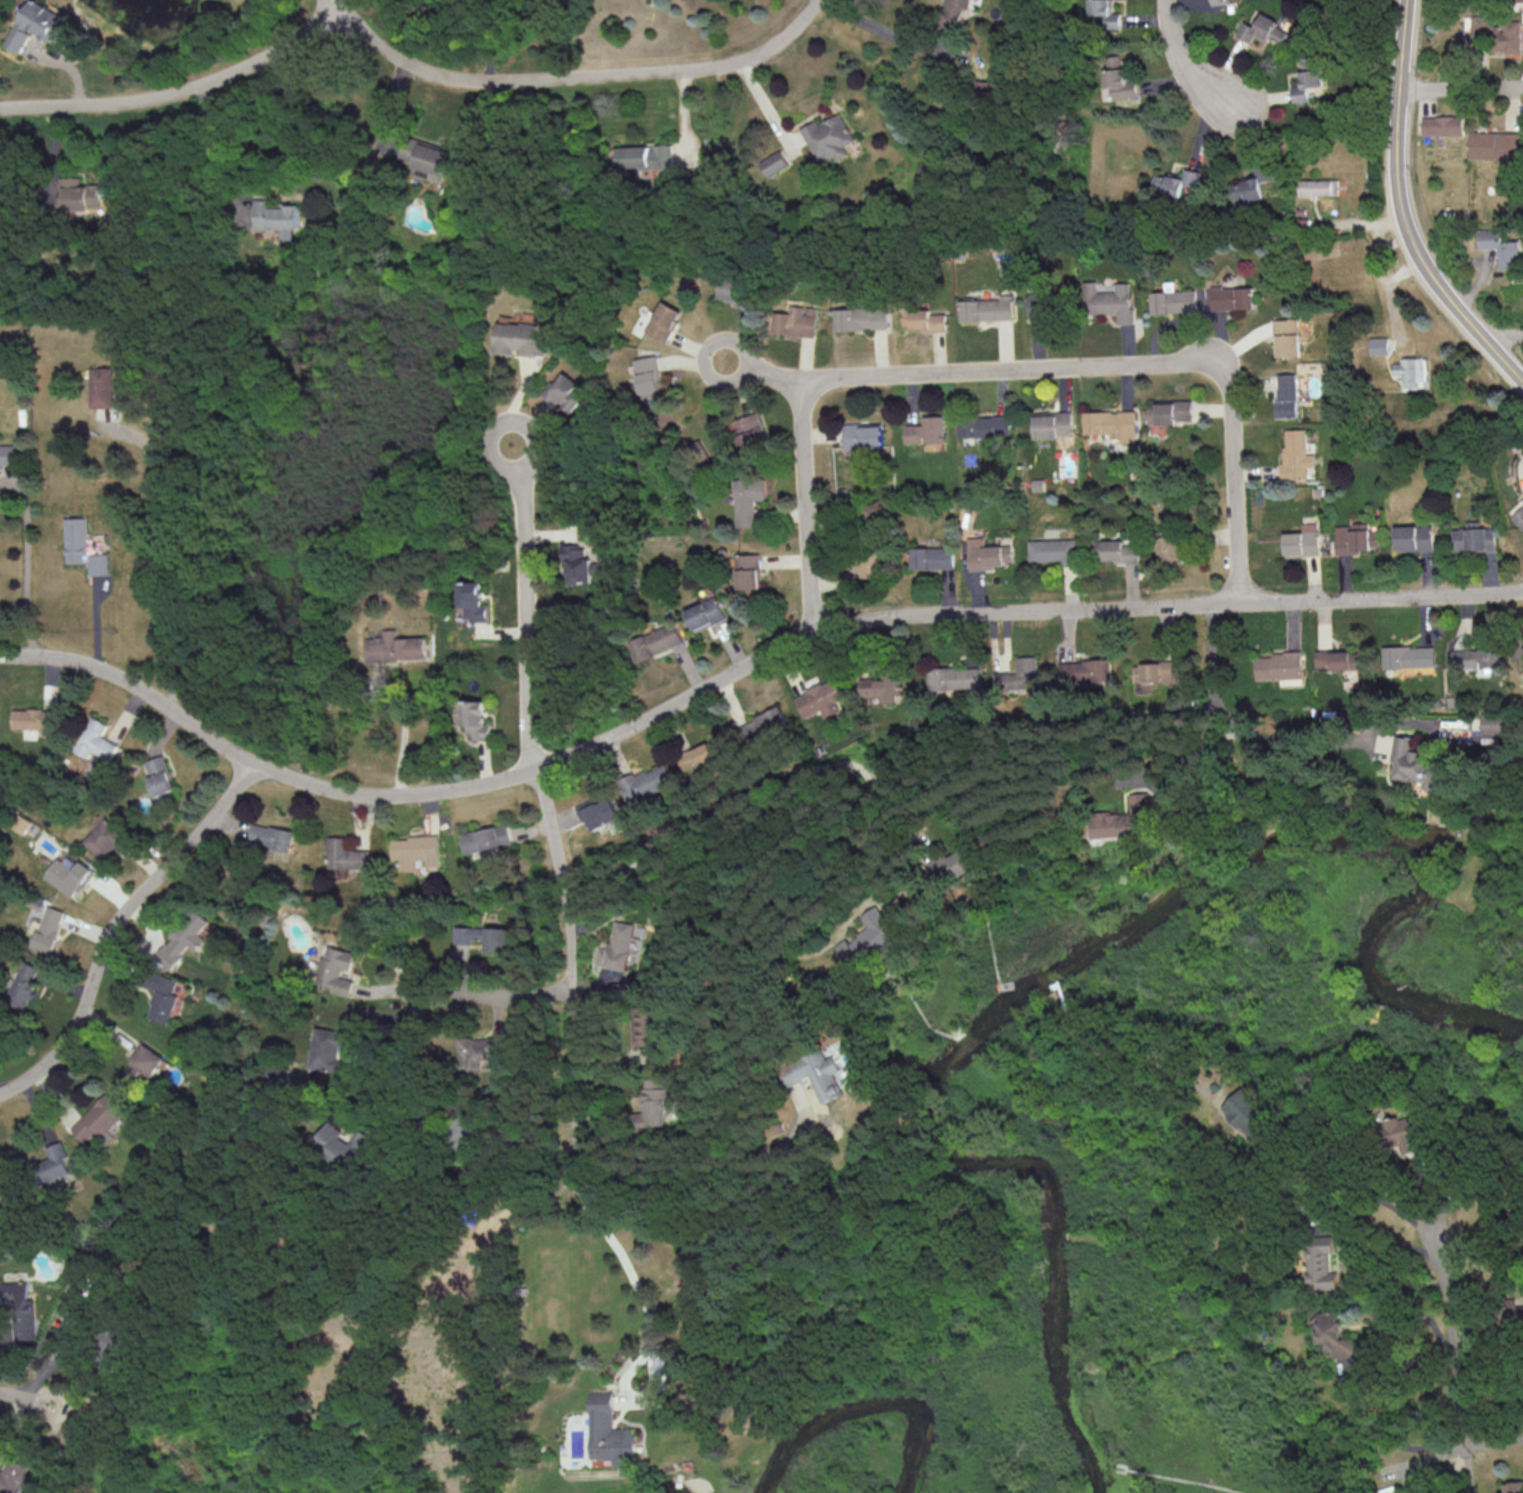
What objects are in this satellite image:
building: (1517, 0)
building: (1220, 2)
building: (953, 11)
building: (1107, 12)
building: (38, 25)
building: (1262, 28)
road: (407, 29)
road: (883, 31)
building: (1499, 33)
road: (488, 40)
road: (1194, 75)
road: (573, 78)
building: (1120, 78)
building: (1307, 78)
road: (1461, 90)
road: (180, 91)
road: (763, 105)
building: (1443, 125)
building: (827, 138)
road: (214, 143)
building: (1495, 144)
building: (646, 156)
building: (773, 163)
building: (1175, 182)
building: (1251, 186)
building: (1318, 186)
building: (81, 196)
road: (1401, 212)
building: (276, 217)
building: (1501, 248)
building: (1232, 297)
building: (1109, 300)
building: (1174, 301)
building: (1035, 304)
building: (986, 308)
building: (860, 318)
building: (922, 320)
building: (665, 321)
building: (795, 321)
road: (1502, 335)
building: (1287, 337)
building: (520, 339)
building: (1379, 345)
road: (1008, 370)
building: (1411, 371)
building: (649, 374)
road: (764, 376)
building: (102, 387)
building: (567, 391)
building: (1287, 395)
building: (1169, 411)
building: (1053, 424)
building: (1111, 424)
building: (984, 426)
building: (749, 430)
building: (927, 430)
building: (864, 436)
building: (8, 454)
building: (1296, 455)
building: (748, 499)
building: (1518, 513)
building: (1474, 537)
building: (1355, 538)
building: (1414, 538)
building: (74, 540)
building: (1303, 541)
building: (1169, 549)
building: (1051, 550)
building: (1121, 550)
building: (989, 553)
road: (149, 555)
building: (933, 557)
building: (96, 563)
road: (24, 564)
building: (576, 565)
building: (748, 571)
building: (473, 601)
road: (523, 606)
building: (706, 614)
building: (656, 641)
building: (395, 647)
building: (1519, 651)
road: (1227, 652)
building: (1409, 656)
building: (1475, 658)
building: (1337, 659)
building: (1280, 667)
building: (1085, 670)
road: (737, 671)
building: (1155, 672)
building: (1018, 677)
building: (955, 679)
building: (882, 688)
building: (822, 699)
building: (476, 719)
building: (36, 720)
building: (762, 726)
building: (1490, 727)
road: (403, 734)
building: (95, 739)
road: (1279, 743)
building: (698, 757)
building: (1408, 759)
building: (159, 779)
building: (648, 782)
building: (600, 812)
building: (1122, 819)
building: (270, 837)
building: (104, 838)
building: (485, 839)
building: (415, 851)
building: (346, 855)
building: (957, 862)
building: (68, 876)
road: (116, 924)
building: (48, 929)
building: (183, 938)
building: (869, 938)
building: (615, 947)
river: (1081, 956)
building: (334, 969)
road: (568, 969)
building: (24, 983)
pier: (1056, 994)
road: (433, 995)
building: (161, 996)
road: (108, 1026)
building: (646, 1033)
road: (1134, 1044)
building: (328, 1047)
building: (477, 1052)
building: (143, 1061)
building: (281, 1072)
building: (818, 1075)
building: (654, 1103)
building: (98, 1117)
building: (1249, 1119)
building: (1404, 1134)
building: (342, 1144)
building: (53, 1162)
building: (3, 1189)
road: (1356, 1190)
road: (1137, 1235)
road: (1350, 1257)
building: (1322, 1263)
road: (628, 1270)
building: (19, 1308)
building: (1515, 1313)
road: (1453, 1332)
building: (1336, 1336)
road: (1179, 1354)
road: (1359, 1367)
road: (25, 1397)
river: (862, 1406)
building: (74, 1424)
building: (609, 1432)
road: (1492, 1442)
building: (0, 1461)
road: (1468, 1469)
pier: (1131, 1472)
building: (16, 1477)
road: (1198, 1480)
building: (1513, 1486)
building: (1397, 1491)
river: (655, 1492)

